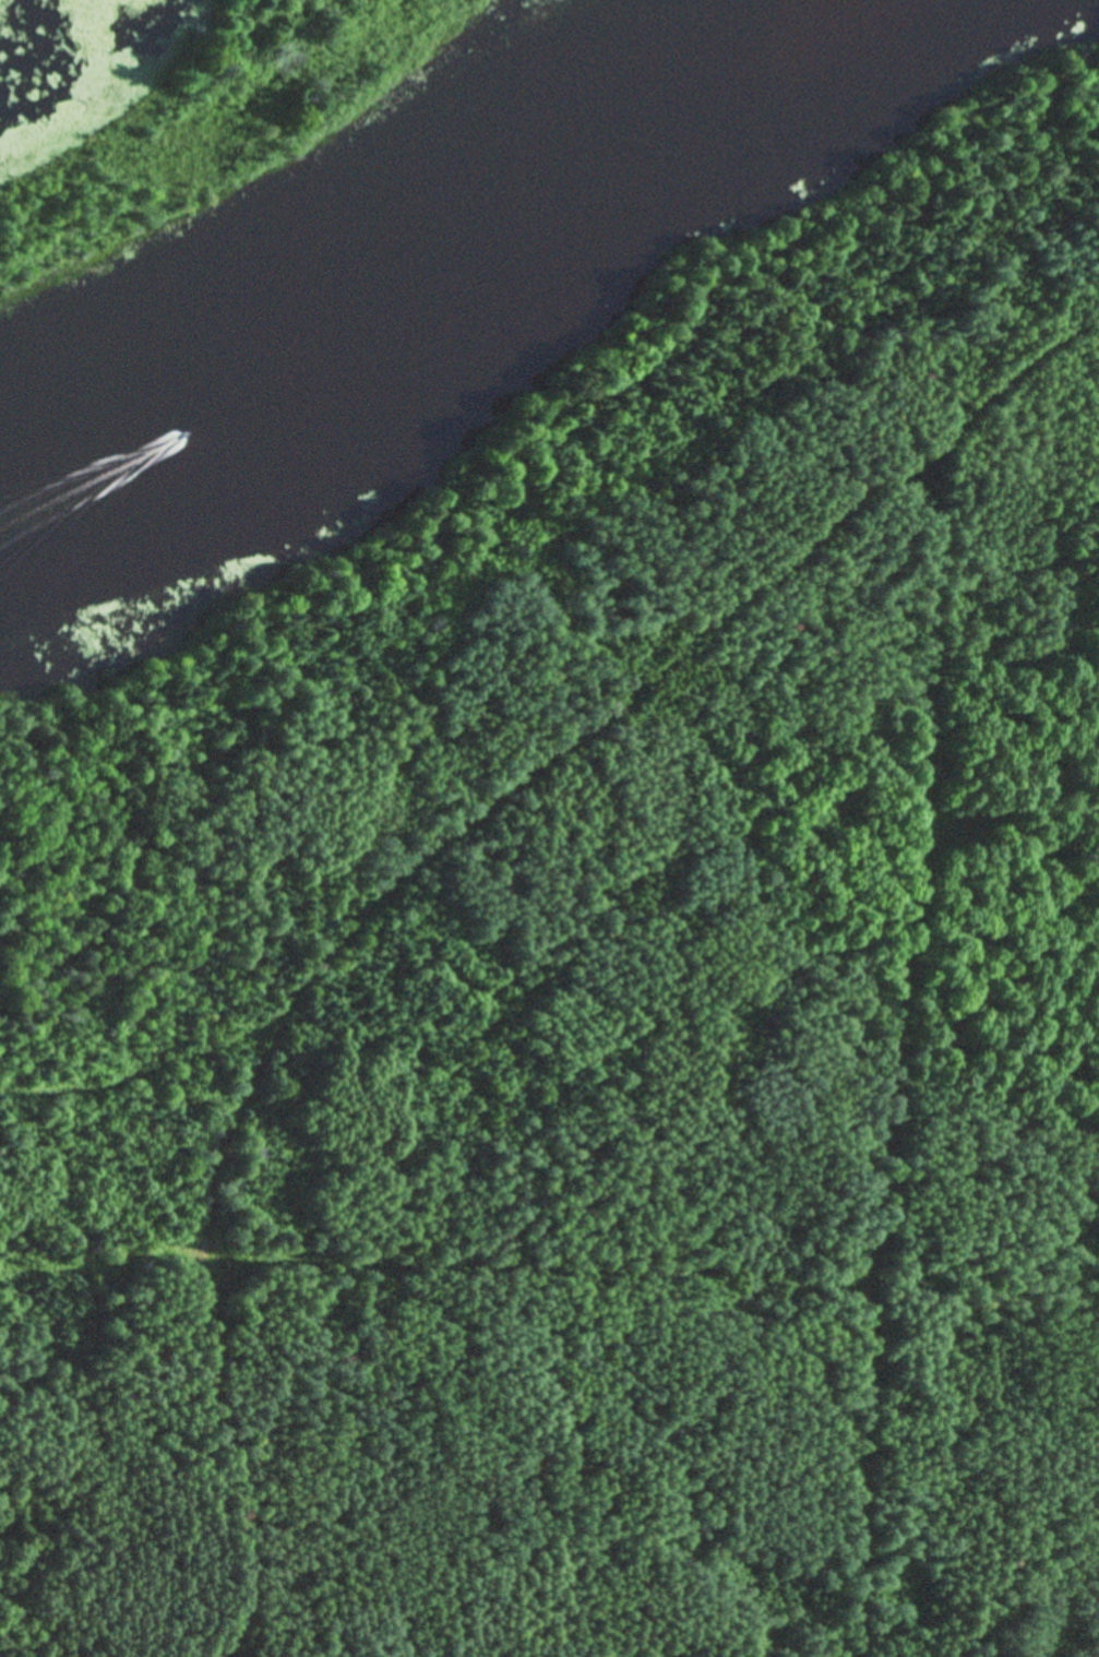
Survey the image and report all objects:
river: (402, 261)

